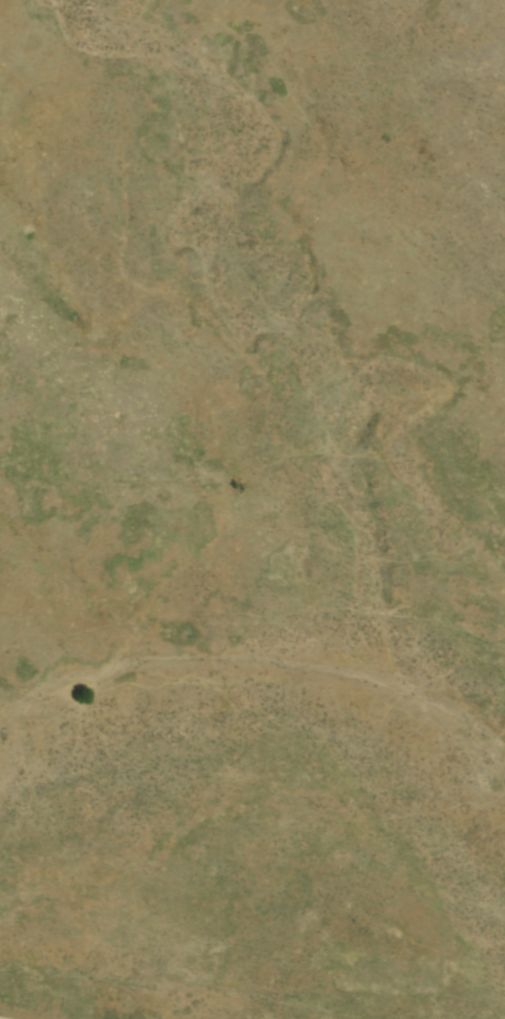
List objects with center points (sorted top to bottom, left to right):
road: (1, 1018)

